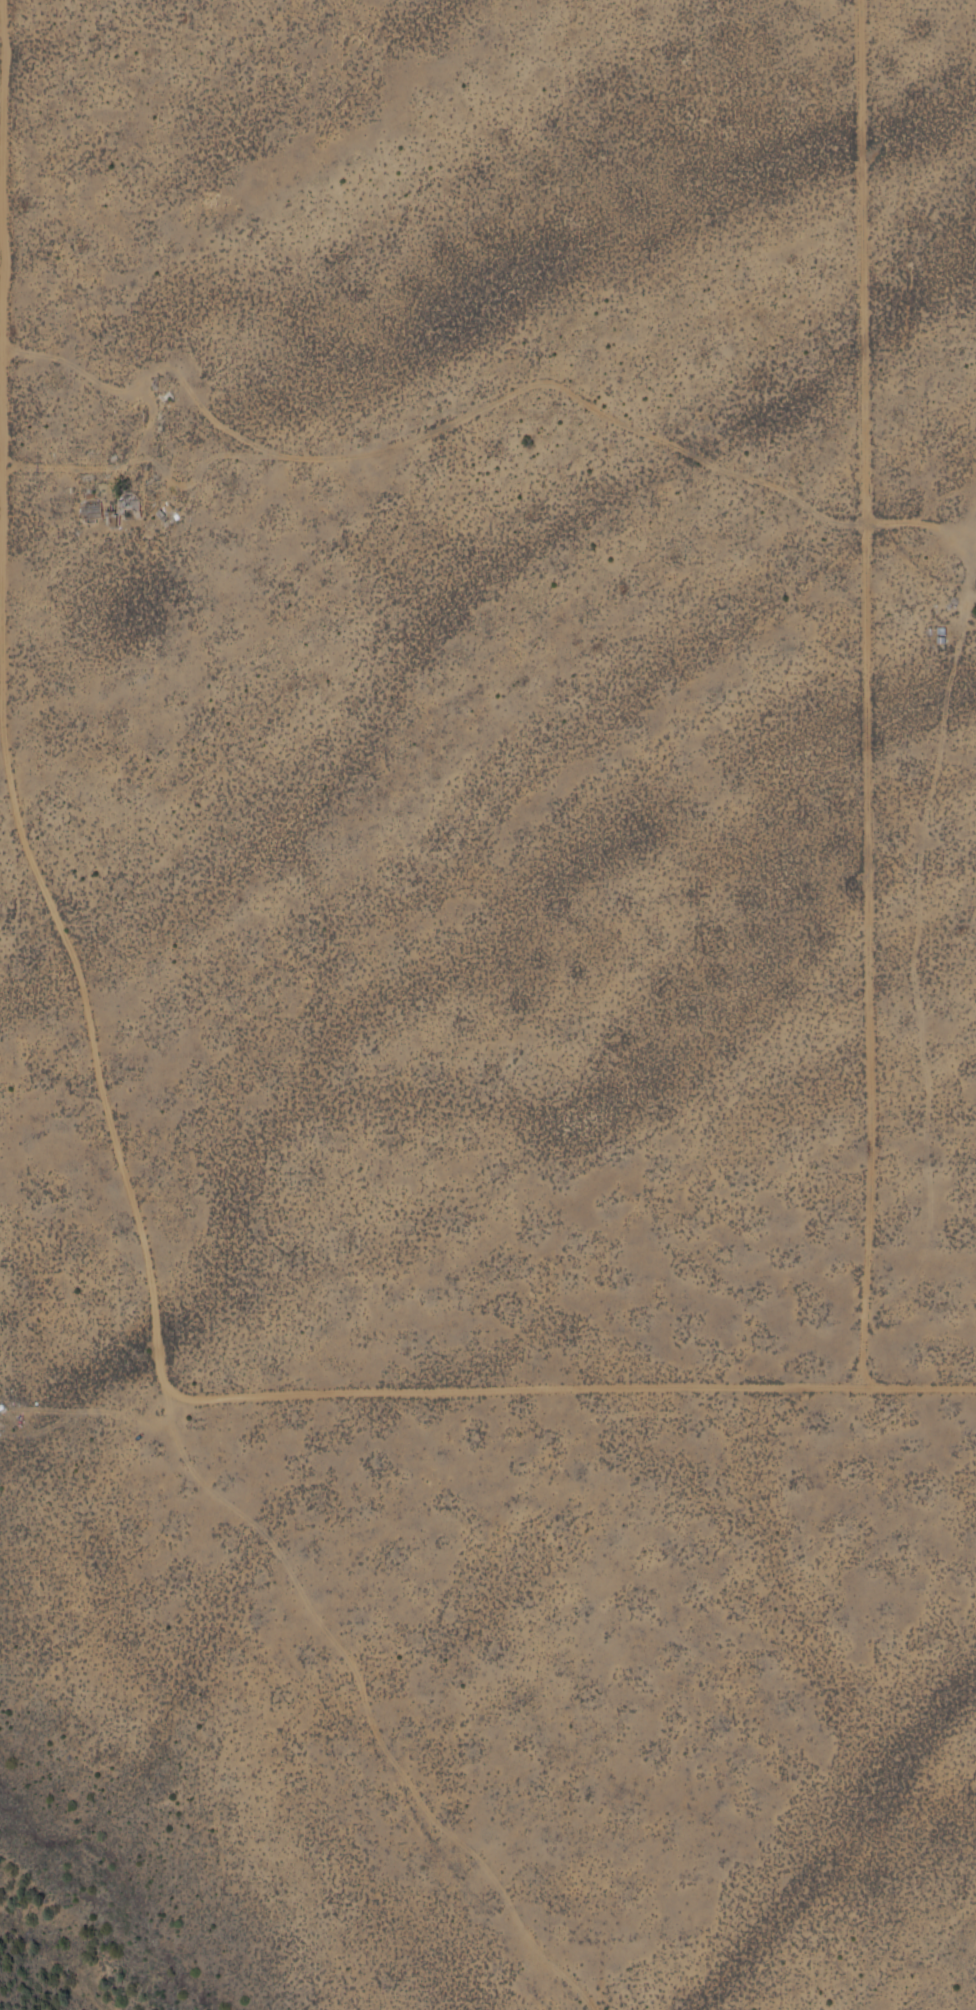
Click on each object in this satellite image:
road: (159, 1062)

